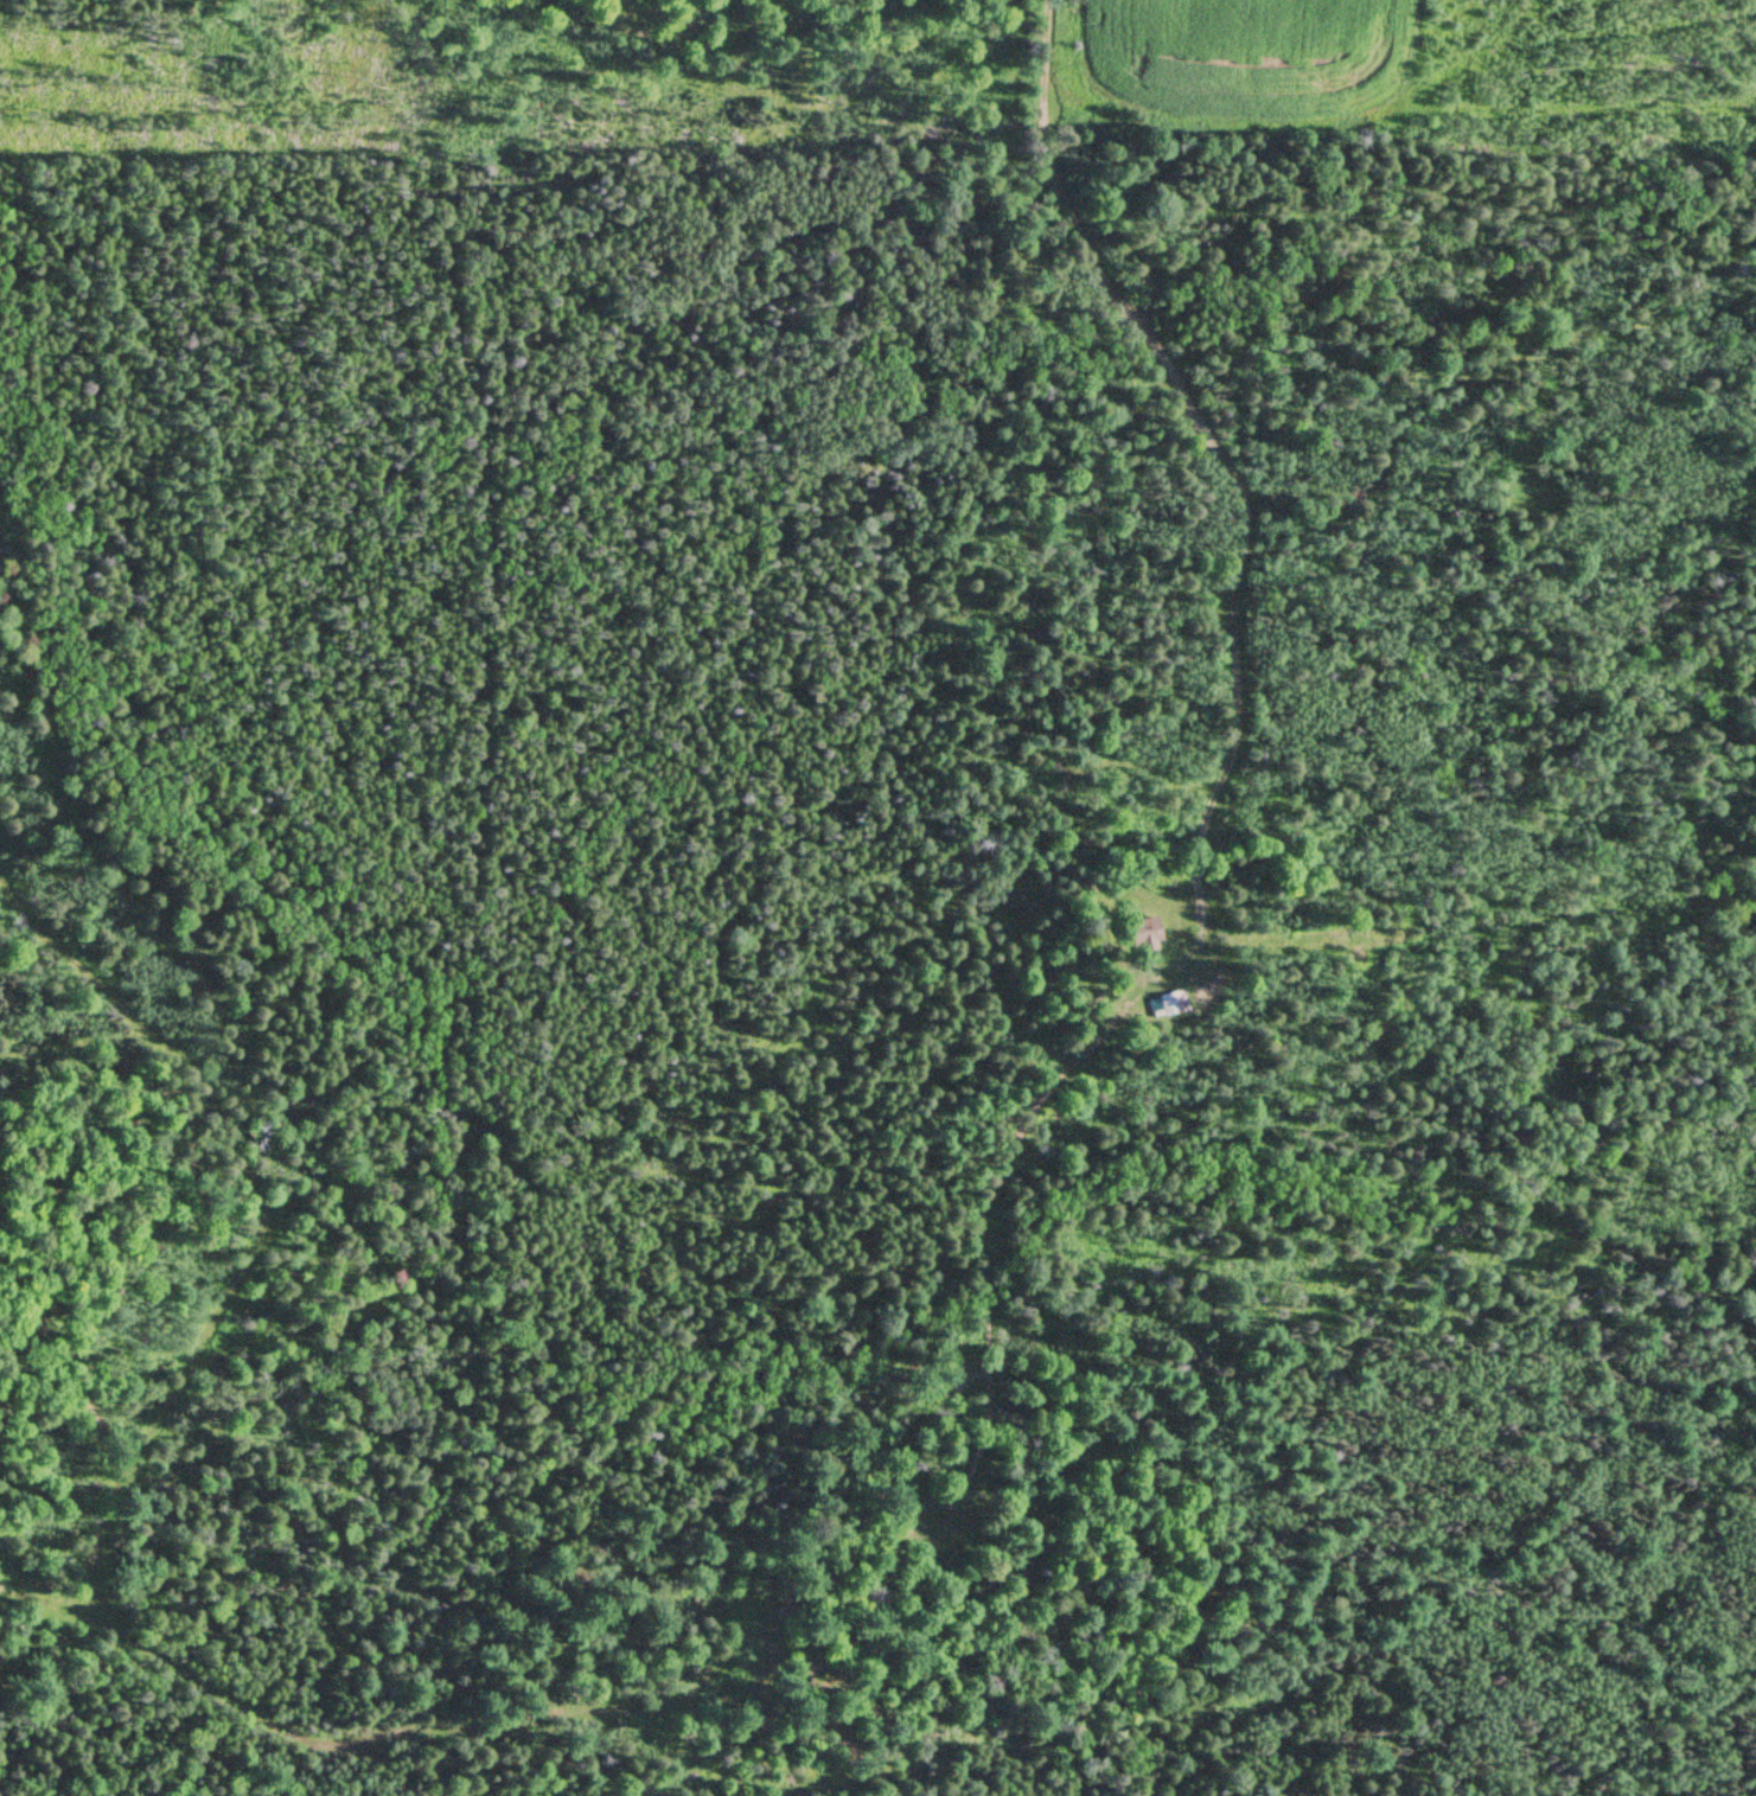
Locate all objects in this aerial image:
building: (1143, 932)
building: (1170, 1003)

